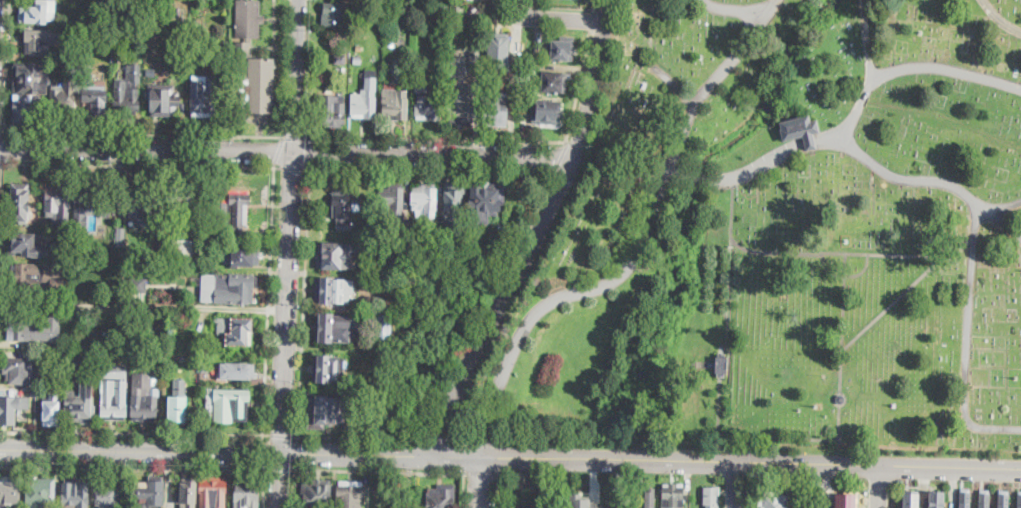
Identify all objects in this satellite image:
road: (594, 4)
building: (182, 5)
road: (562, 5)
road: (773, 5)
building: (104, 6)
building: (457, 7)
building: (409, 8)
building: (444, 8)
road: (736, 10)
building: (39, 11)
building: (335, 15)
road: (554, 16)
building: (248, 18)
road: (1000, 18)
road: (591, 19)
building: (94, 22)
building: (183, 31)
building: (43, 41)
road: (868, 41)
building: (389, 47)
building: (499, 49)
building: (561, 49)
building: (527, 53)
building: (69, 54)
building: (115, 57)
building: (475, 58)
building: (340, 59)
building: (358, 59)
road: (8, 65)
road: (912, 66)
building: (355, 68)
building: (345, 70)
building: (151, 72)
building: (514, 73)
road: (295, 76)
building: (30, 77)
building: (253, 81)
building: (421, 82)
building: (554, 82)
road: (578, 85)
building: (127, 92)
building: (96, 96)
building: (205, 96)
building: (63, 100)
building: (165, 100)
building: (364, 102)
building: (395, 104)
building: (429, 104)
building: (462, 104)
building: (26, 110)
building: (334, 110)
building: (495, 111)
building: (548, 113)
building: (800, 130)
road: (1, 131)
road: (141, 133)
road: (293, 137)
road: (436, 138)
road: (1, 146)
road: (853, 147)
road: (146, 151)
road: (278, 153)
road: (307, 153)
road: (433, 156)
road: (559, 157)
road: (1, 160)
road: (137, 165)
road: (291, 169)
road: (430, 171)
road: (1, 187)
building: (182, 190)
building: (392, 199)
building: (486, 201)
building: (425, 202)
building: (454, 202)
building: (19, 203)
building: (90, 204)
building: (58, 205)
building: (142, 207)
building: (344, 208)
building: (234, 210)
building: (407, 227)
road: (537, 236)
park: (783, 236)
building: (121, 237)
building: (26, 244)
building: (445, 246)
building: (185, 249)
building: (398, 249)
building: (241, 252)
road: (635, 253)
building: (335, 256)
building: (429, 272)
building: (35, 277)
building: (138, 283)
building: (235, 288)
building: (336, 291)
building: (121, 293)
road: (267, 301)
road: (286, 303)
road: (304, 303)
building: (82, 318)
road: (968, 322)
building: (383, 327)
building: (27, 328)
building: (129, 328)
building: (335, 329)
building: (232, 332)
building: (138, 339)
building: (159, 351)
building: (388, 356)
building: (55, 357)
building: (76, 360)
building: (721, 365)
building: (205, 368)
building: (330, 368)
building: (19, 370)
building: (236, 371)
building: (56, 380)
building: (34, 392)
building: (113, 393)
building: (144, 395)
building: (840, 397)
building: (178, 401)
building: (80, 404)
building: (227, 404)
building: (12, 407)
building: (51, 408)
building: (326, 411)
road: (131, 432)
road: (280, 434)
road: (358, 436)
road: (431, 437)
road: (458, 437)
road: (478, 438)
road: (264, 449)
road: (295, 450)
road: (139, 451)
road: (351, 455)
road: (467, 455)
road: (579, 459)
road: (878, 464)
road: (132, 466)
road: (279, 466)
road: (378, 469)
road: (479, 473)
road: (497, 473)
road: (279, 481)
road: (478, 483)
building: (534, 484)
road: (736, 484)
road: (882, 486)
road: (264, 487)
road: (293, 487)
road: (462, 490)
building: (9, 491)
building: (40, 492)
park: (530, 492)
building: (75, 493)
building: (212, 493)
building: (315, 493)
road: (892, 493)
building: (107, 494)
building: (147, 494)
building: (186, 494)
building: (350, 494)
building: (247, 495)
building: (673, 495)
building: (441, 496)
building: (710, 497)
building: (650, 498)
building: (580, 499)
building: (775, 500)
building: (965, 500)
building: (985, 500)
building: (911, 501)
building: (937, 501)
building: (1003, 501)
building: (1019, 502)

